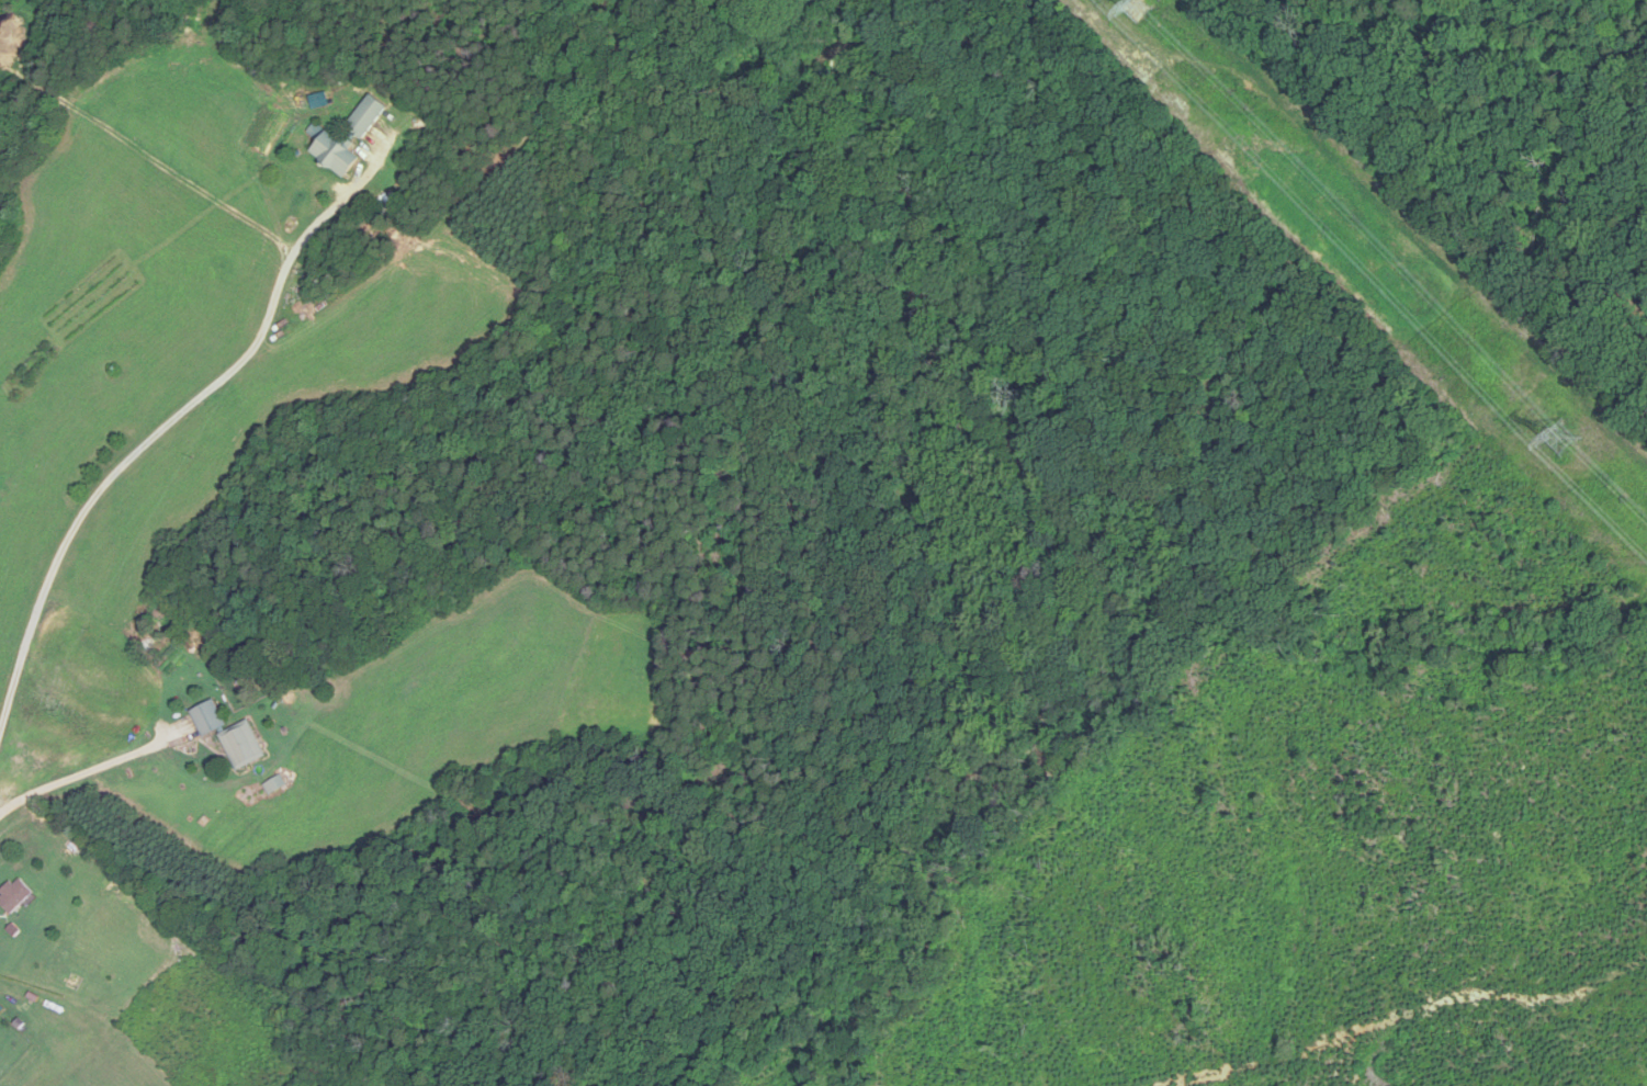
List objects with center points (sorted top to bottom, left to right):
power tower: (1139, 11)
building: (348, 138)
road: (147, 441)
power tower: (1571, 448)
building: (233, 736)
road: (91, 770)
building: (16, 896)

